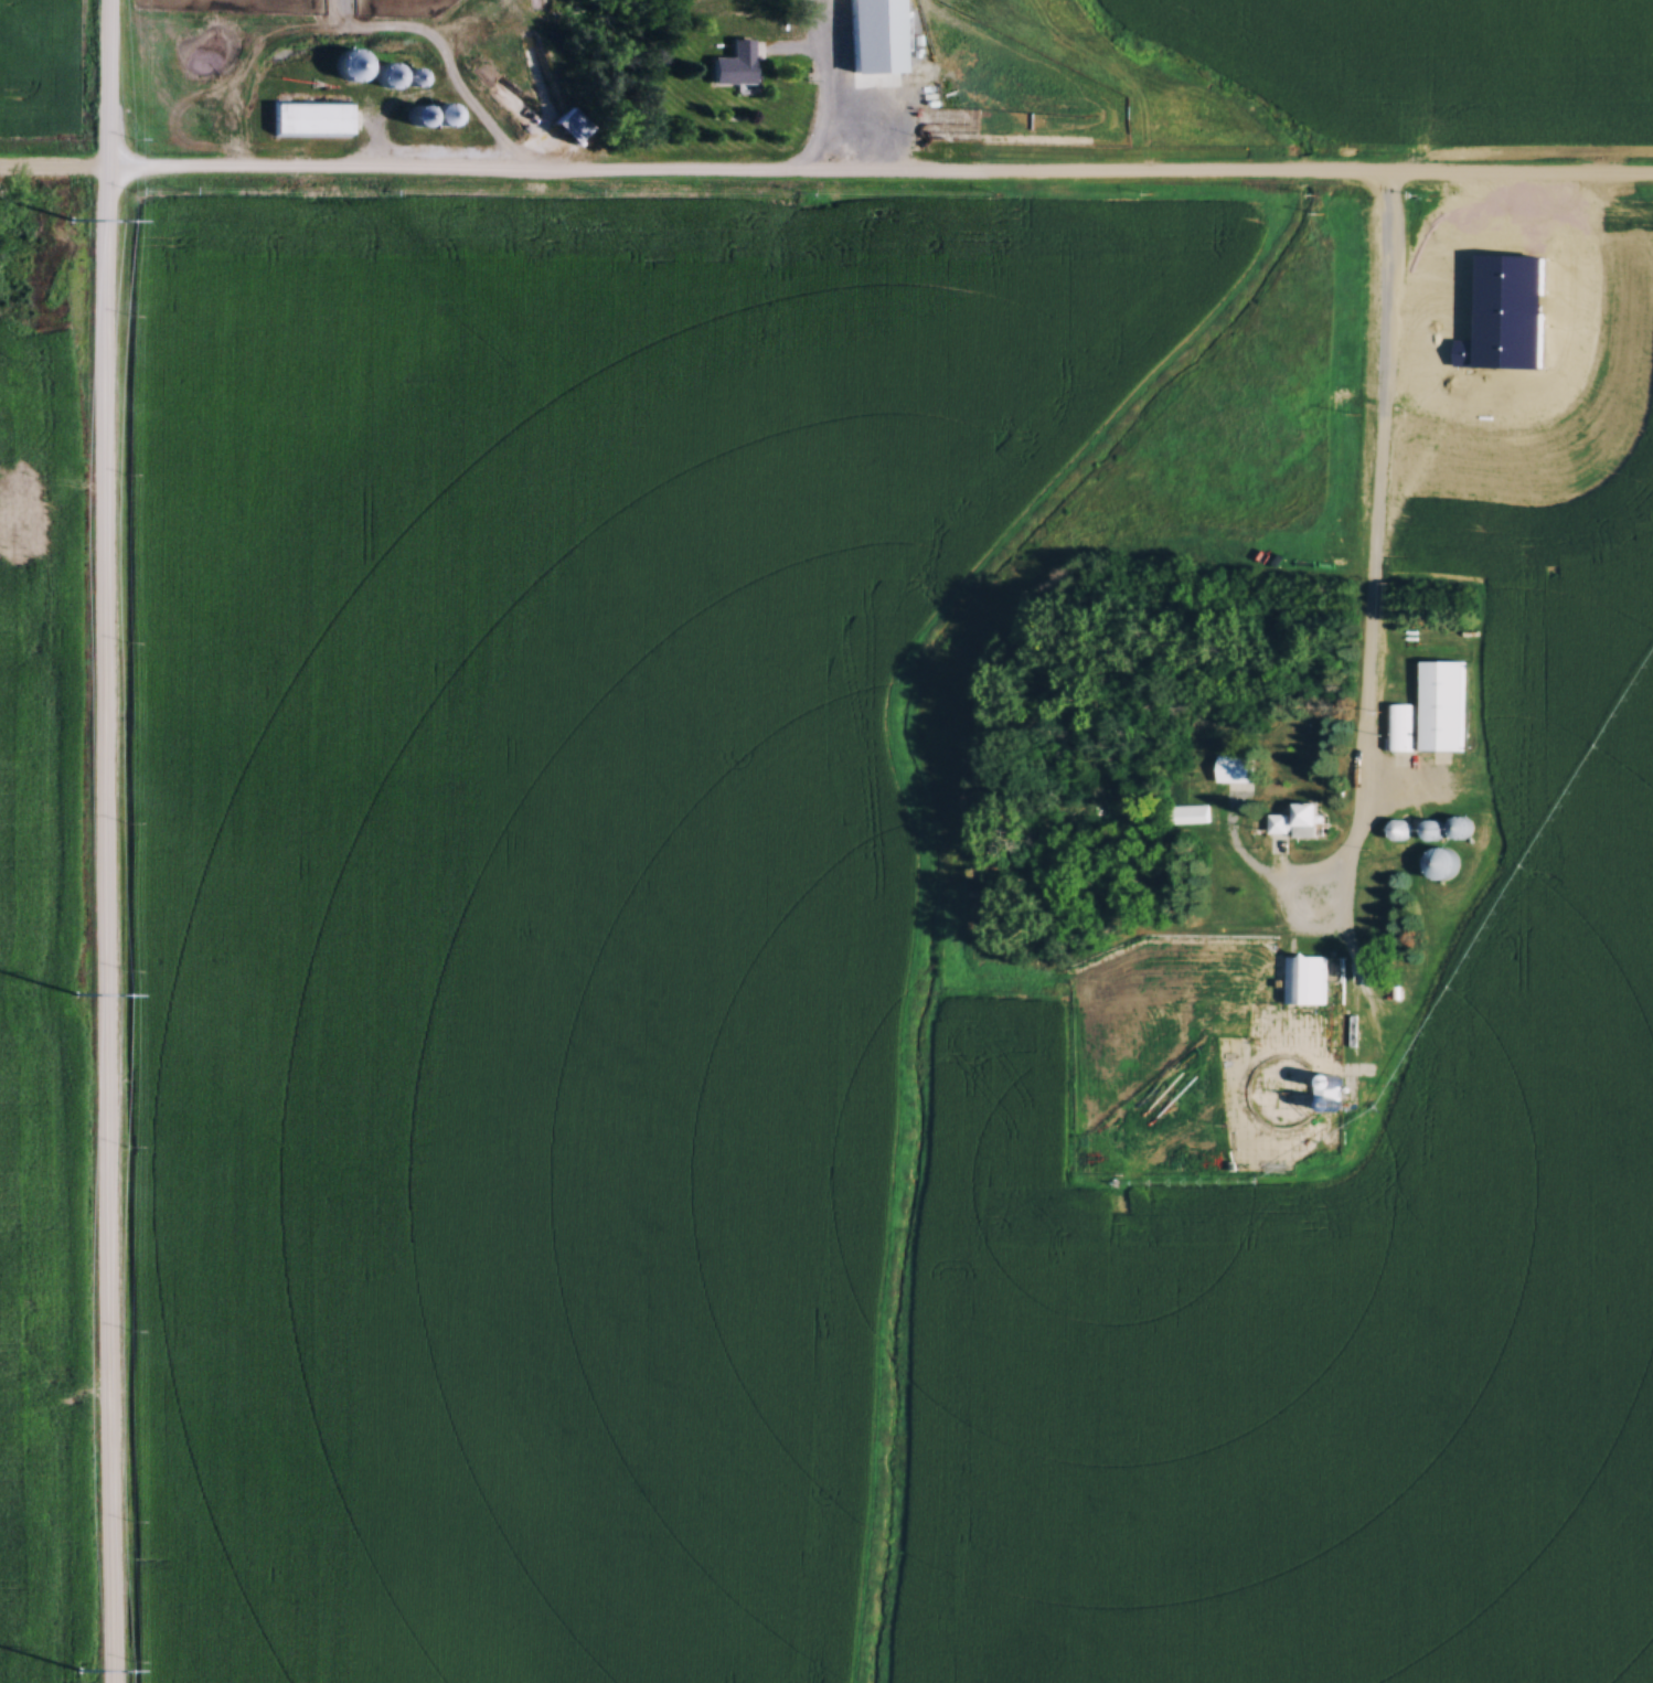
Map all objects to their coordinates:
building: (876, 44)
building: (735, 65)
building: (349, 66)
building: (418, 74)
building: (386, 76)
building: (878, 76)
road: (830, 88)
building: (442, 116)
building: (415, 118)
building: (310, 119)
building: (569, 126)
road: (825, 177)
power tower: (72, 219)
road: (1375, 558)
building: (1441, 706)
building: (1399, 727)
building: (1190, 816)
building: (1295, 821)
road: (108, 841)
building: (1442, 864)
building: (1307, 980)
power tower: (75, 993)
building: (1228, 1013)
building: (1326, 1093)
power tower: (78, 1669)

